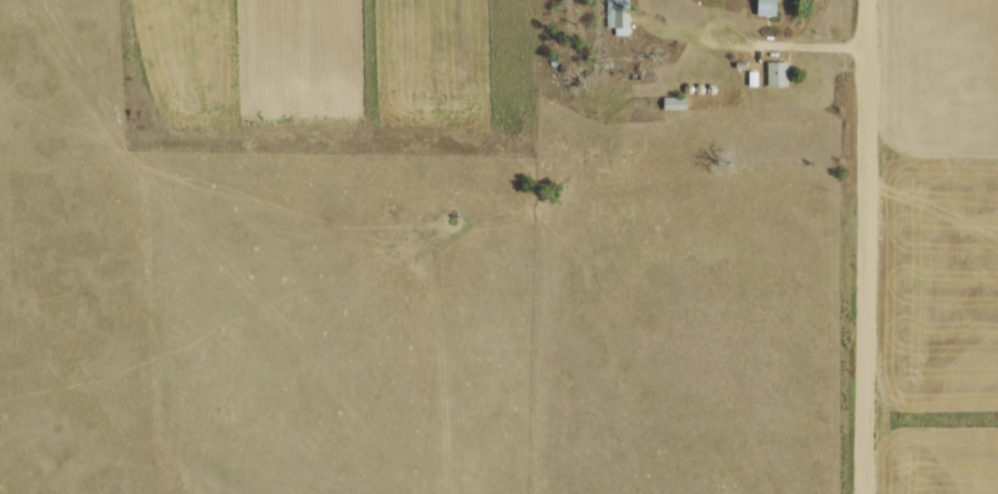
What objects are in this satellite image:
building: (767, 6)
building: (617, 15)
road: (753, 44)
building: (739, 64)
building: (777, 72)
building: (752, 77)
building: (688, 86)
silo: (688, 86)
building: (699, 86)
silo: (699, 86)
building: (711, 87)
silo: (711, 87)
building: (675, 101)
road: (865, 247)

